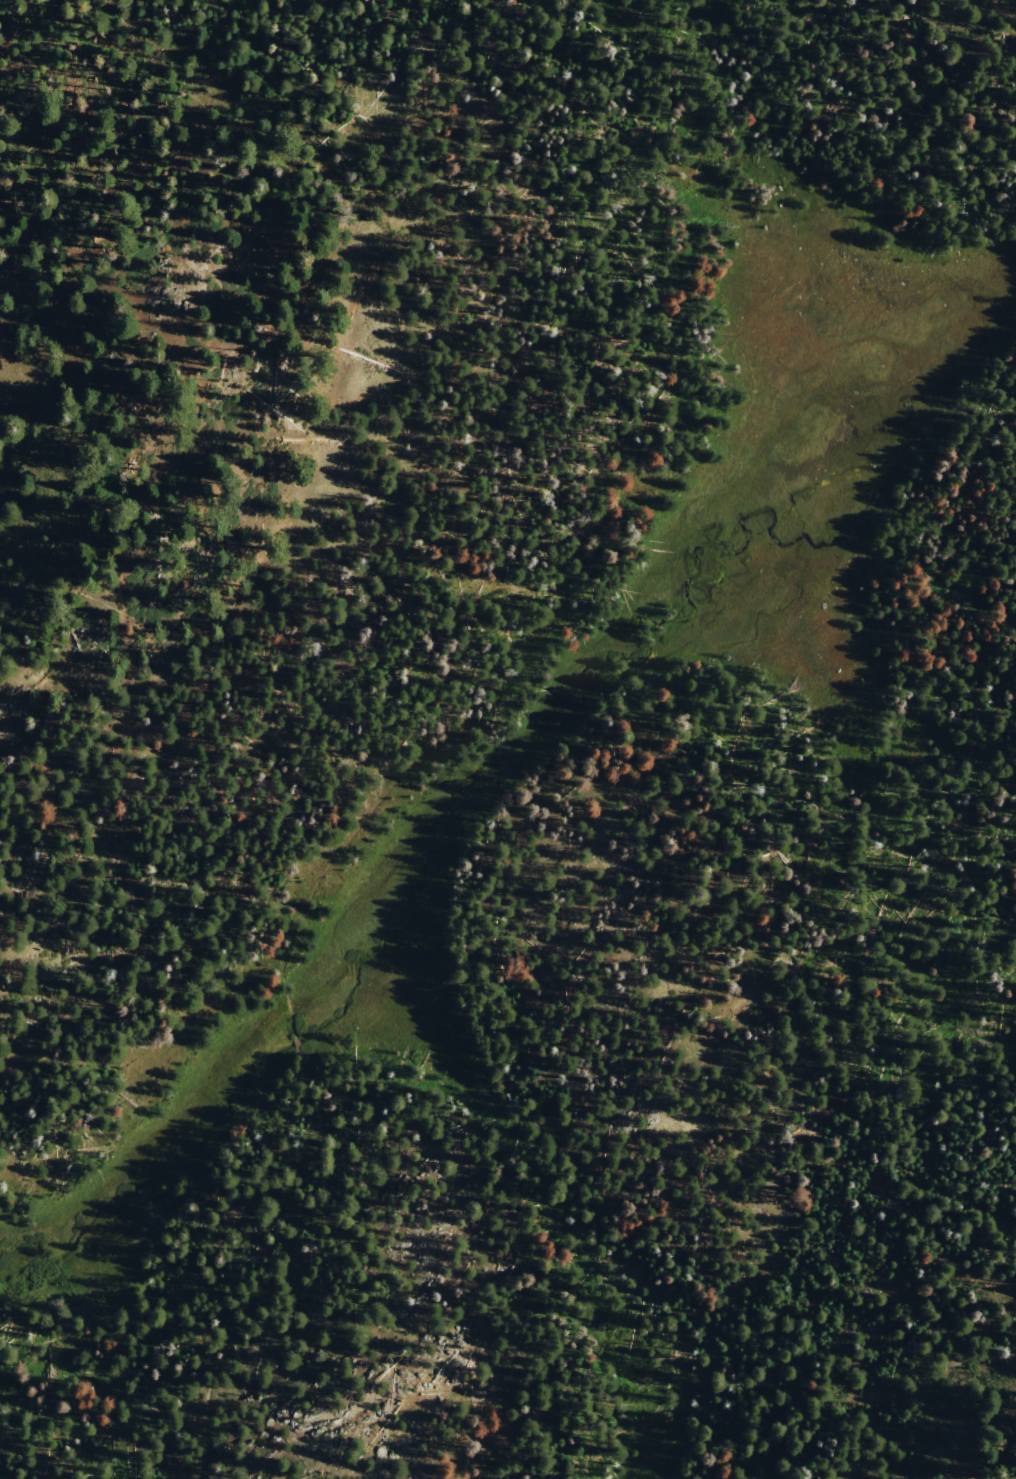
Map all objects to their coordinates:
road: (449, 738)

